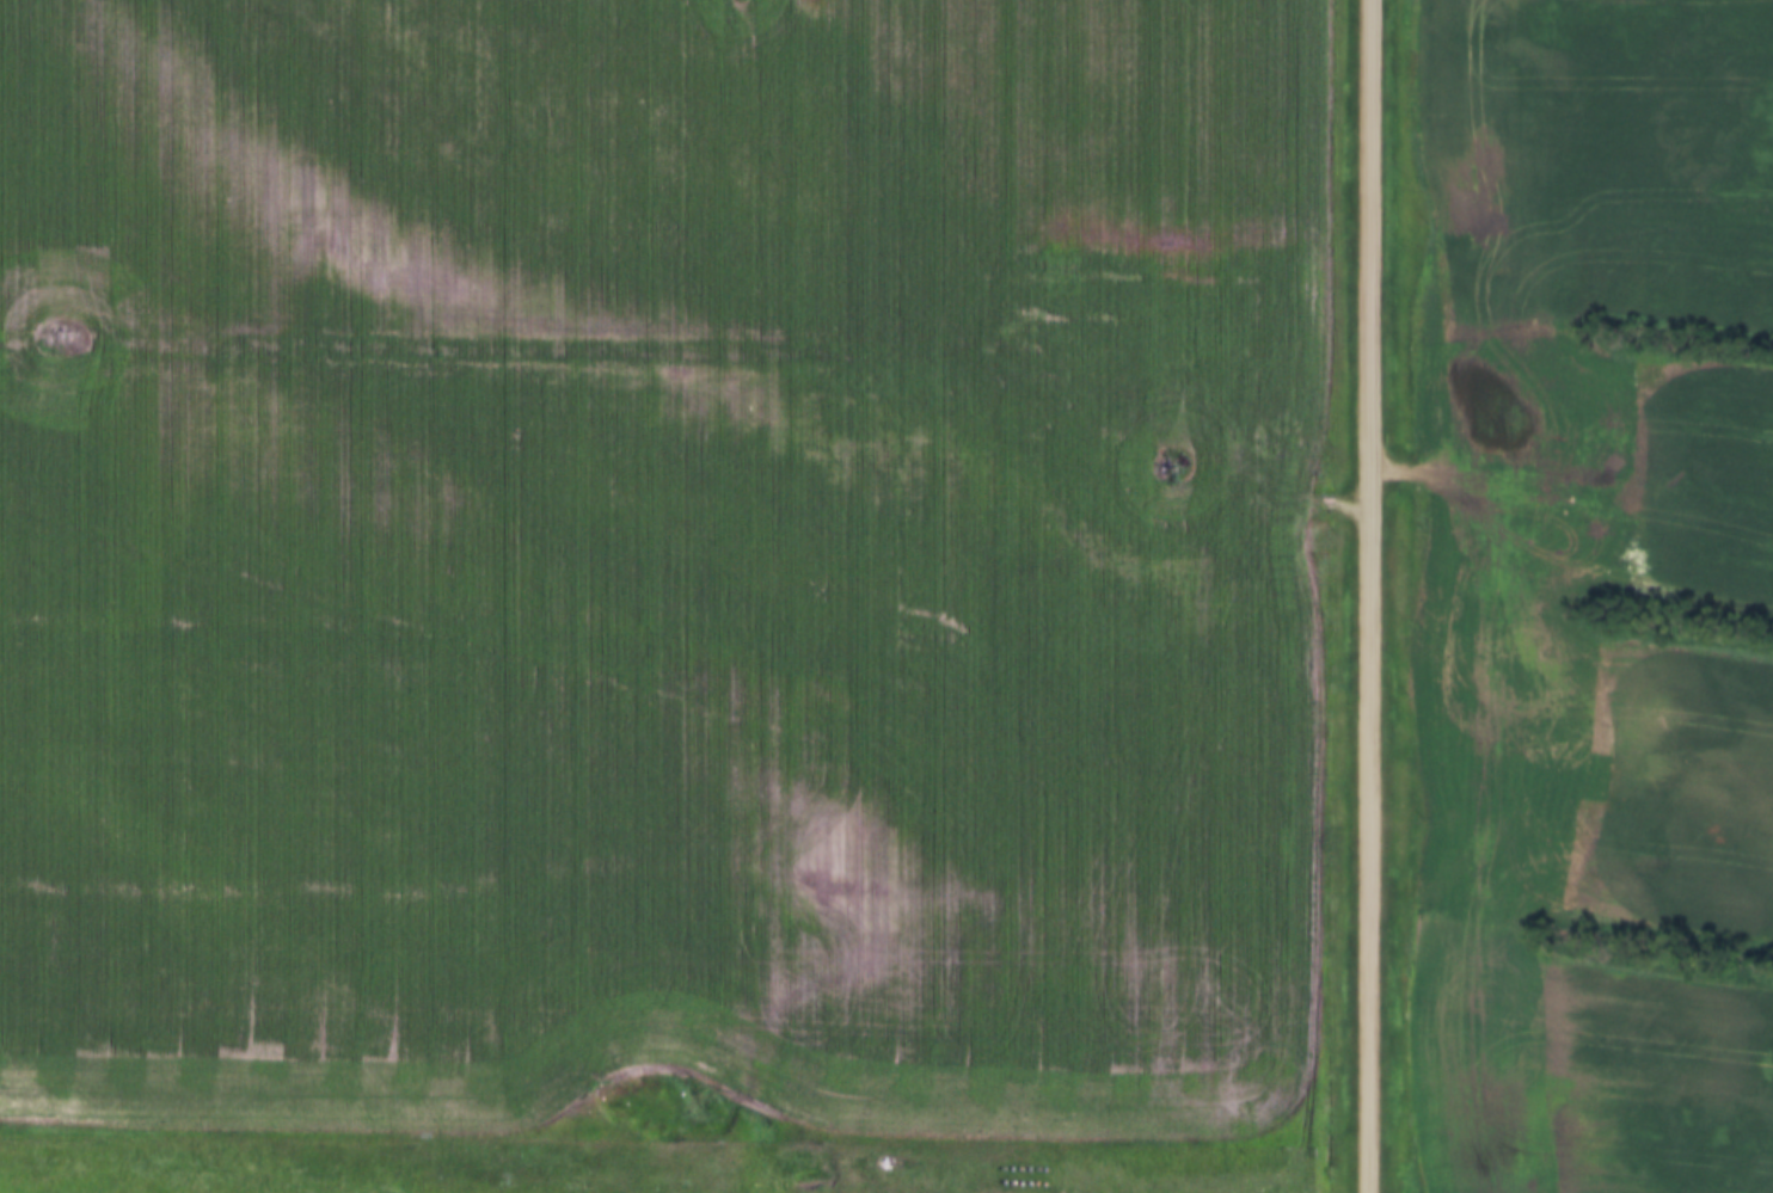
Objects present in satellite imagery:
road: (1378, 596)

